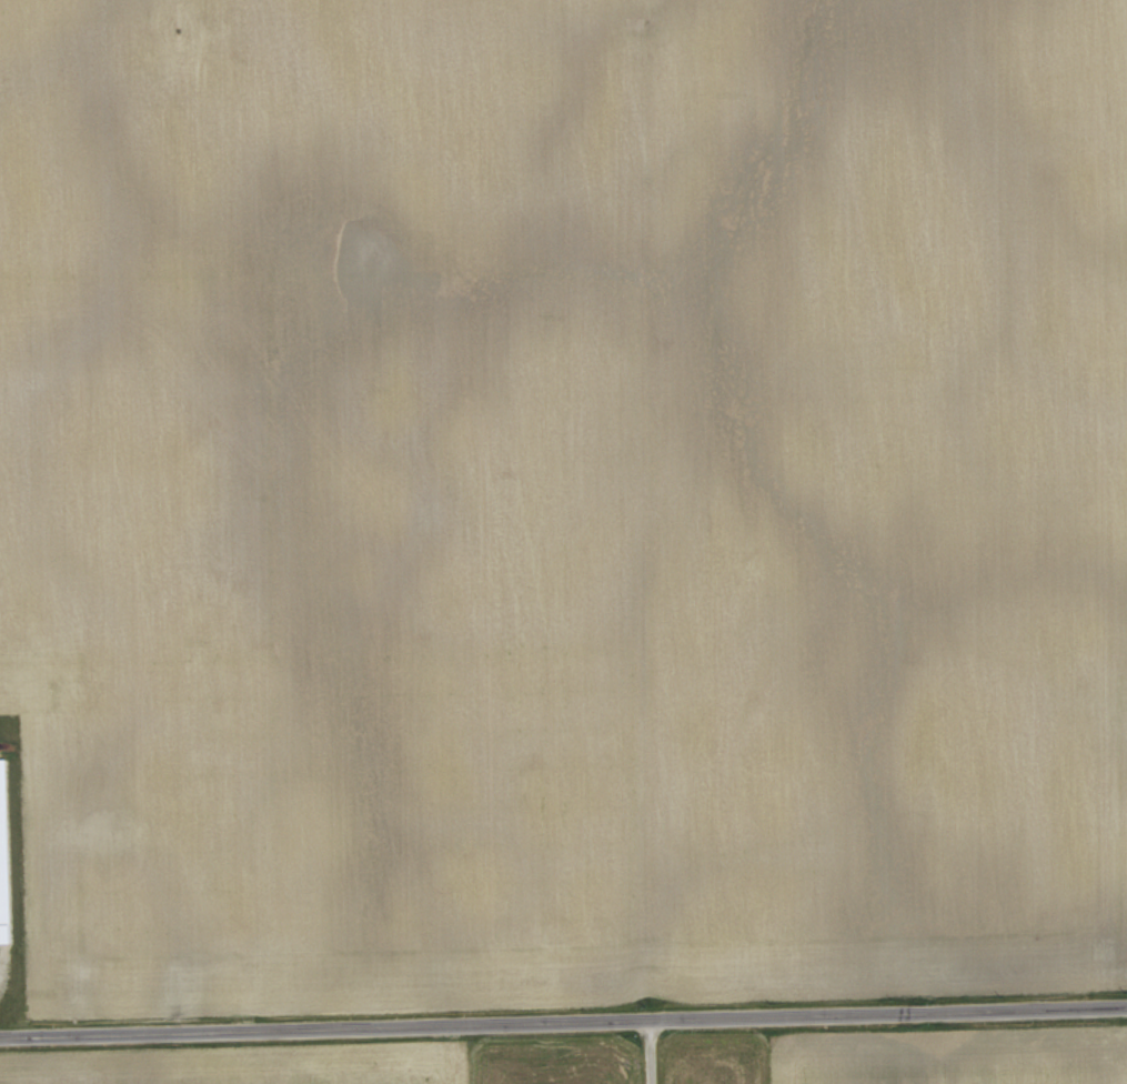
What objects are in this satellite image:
road: (563, 1020)
road: (650, 1051)

